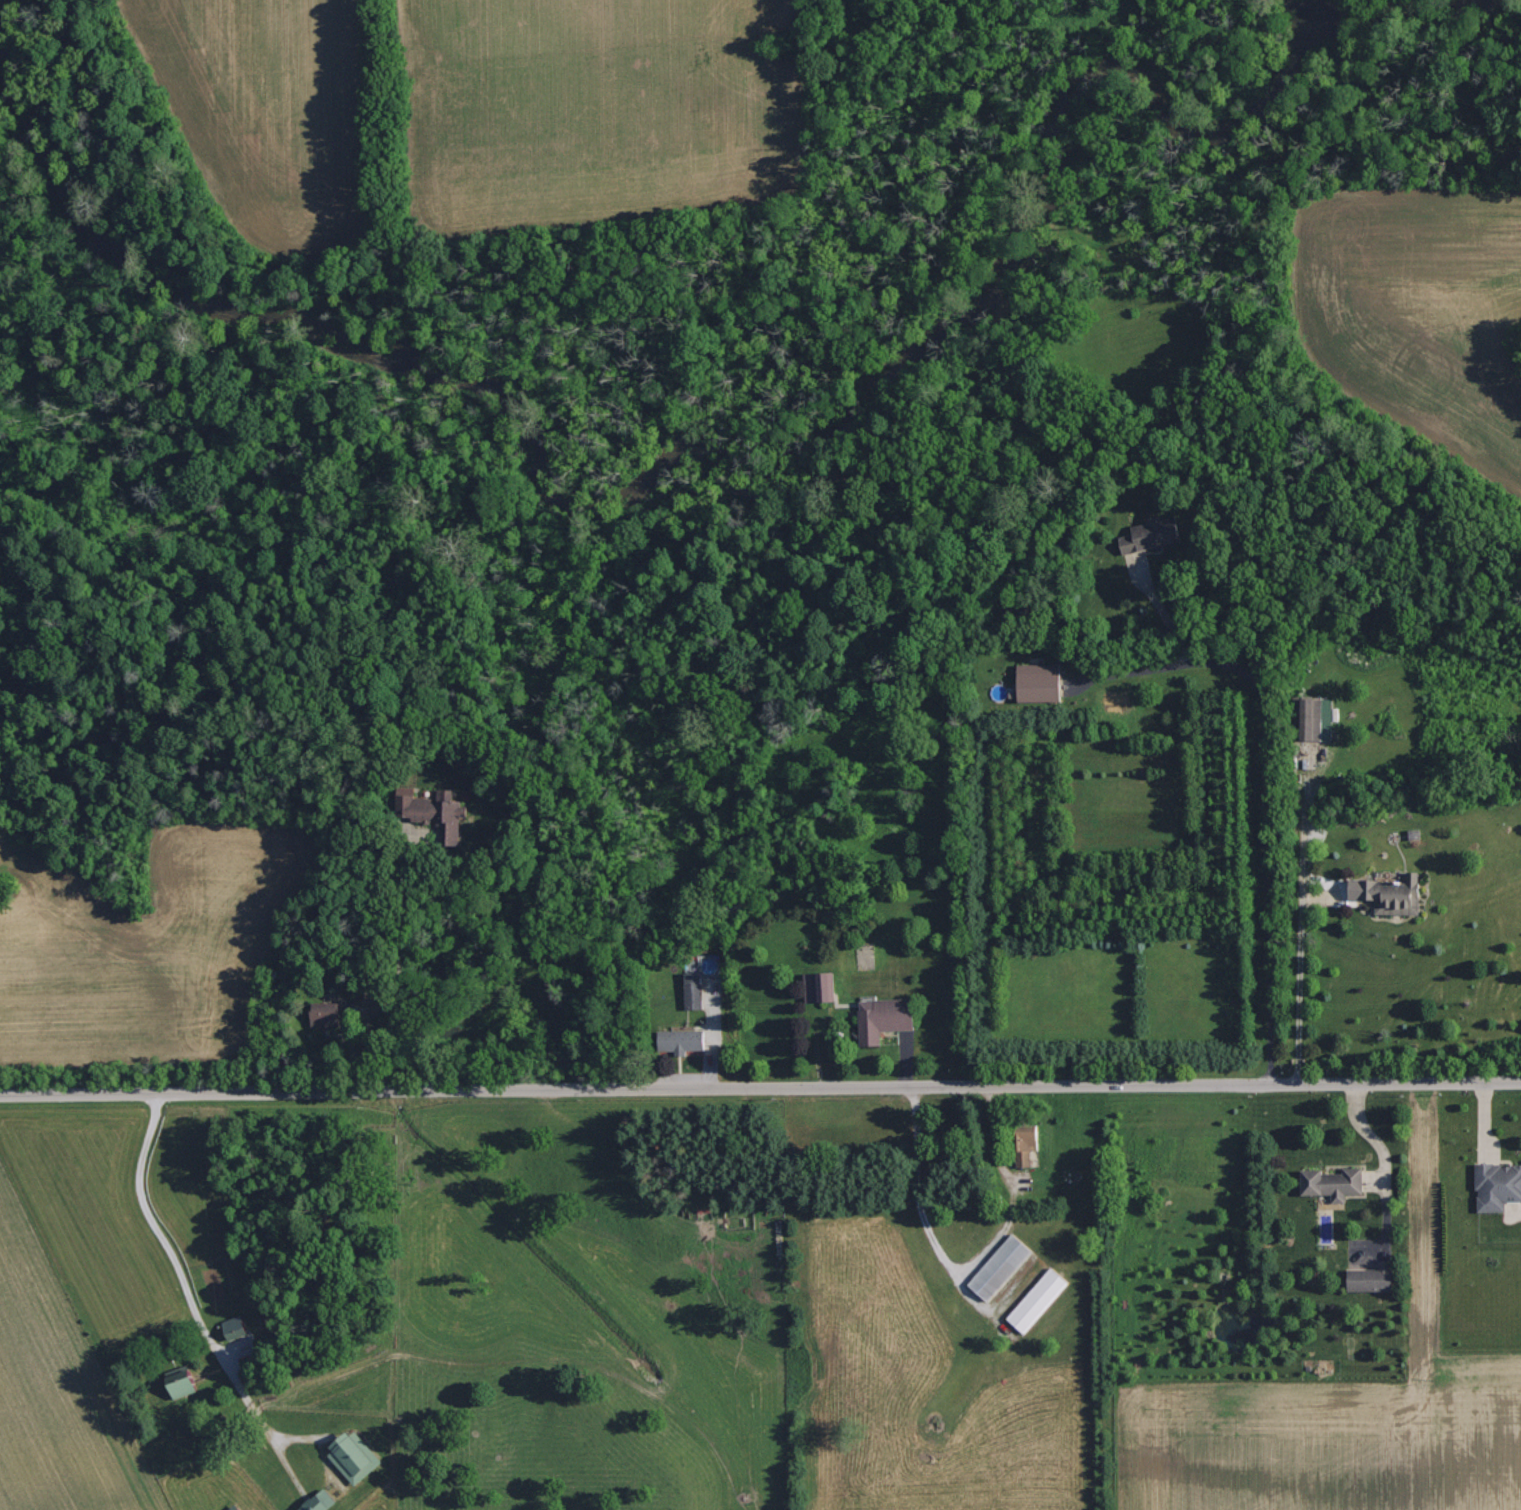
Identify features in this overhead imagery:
building: (1156, 534)
building: (1043, 682)
building: (1320, 719)
road: (1263, 797)
building: (437, 813)
building: (1394, 894)
road: (405, 963)
road: (1293, 970)
building: (822, 987)
building: (694, 990)
building: (329, 1014)
building: (887, 1018)
building: (683, 1041)
road: (760, 1088)
road: (1370, 1135)
building: (1028, 1143)
building: (1336, 1183)
road: (914, 1186)
building: (1499, 1186)
road: (157, 1231)
building: (1002, 1267)
building: (1375, 1278)
building: (1039, 1300)
building: (237, 1327)
building: (187, 1383)
building: (356, 1457)
building: (323, 1502)
building: (235, 1508)

